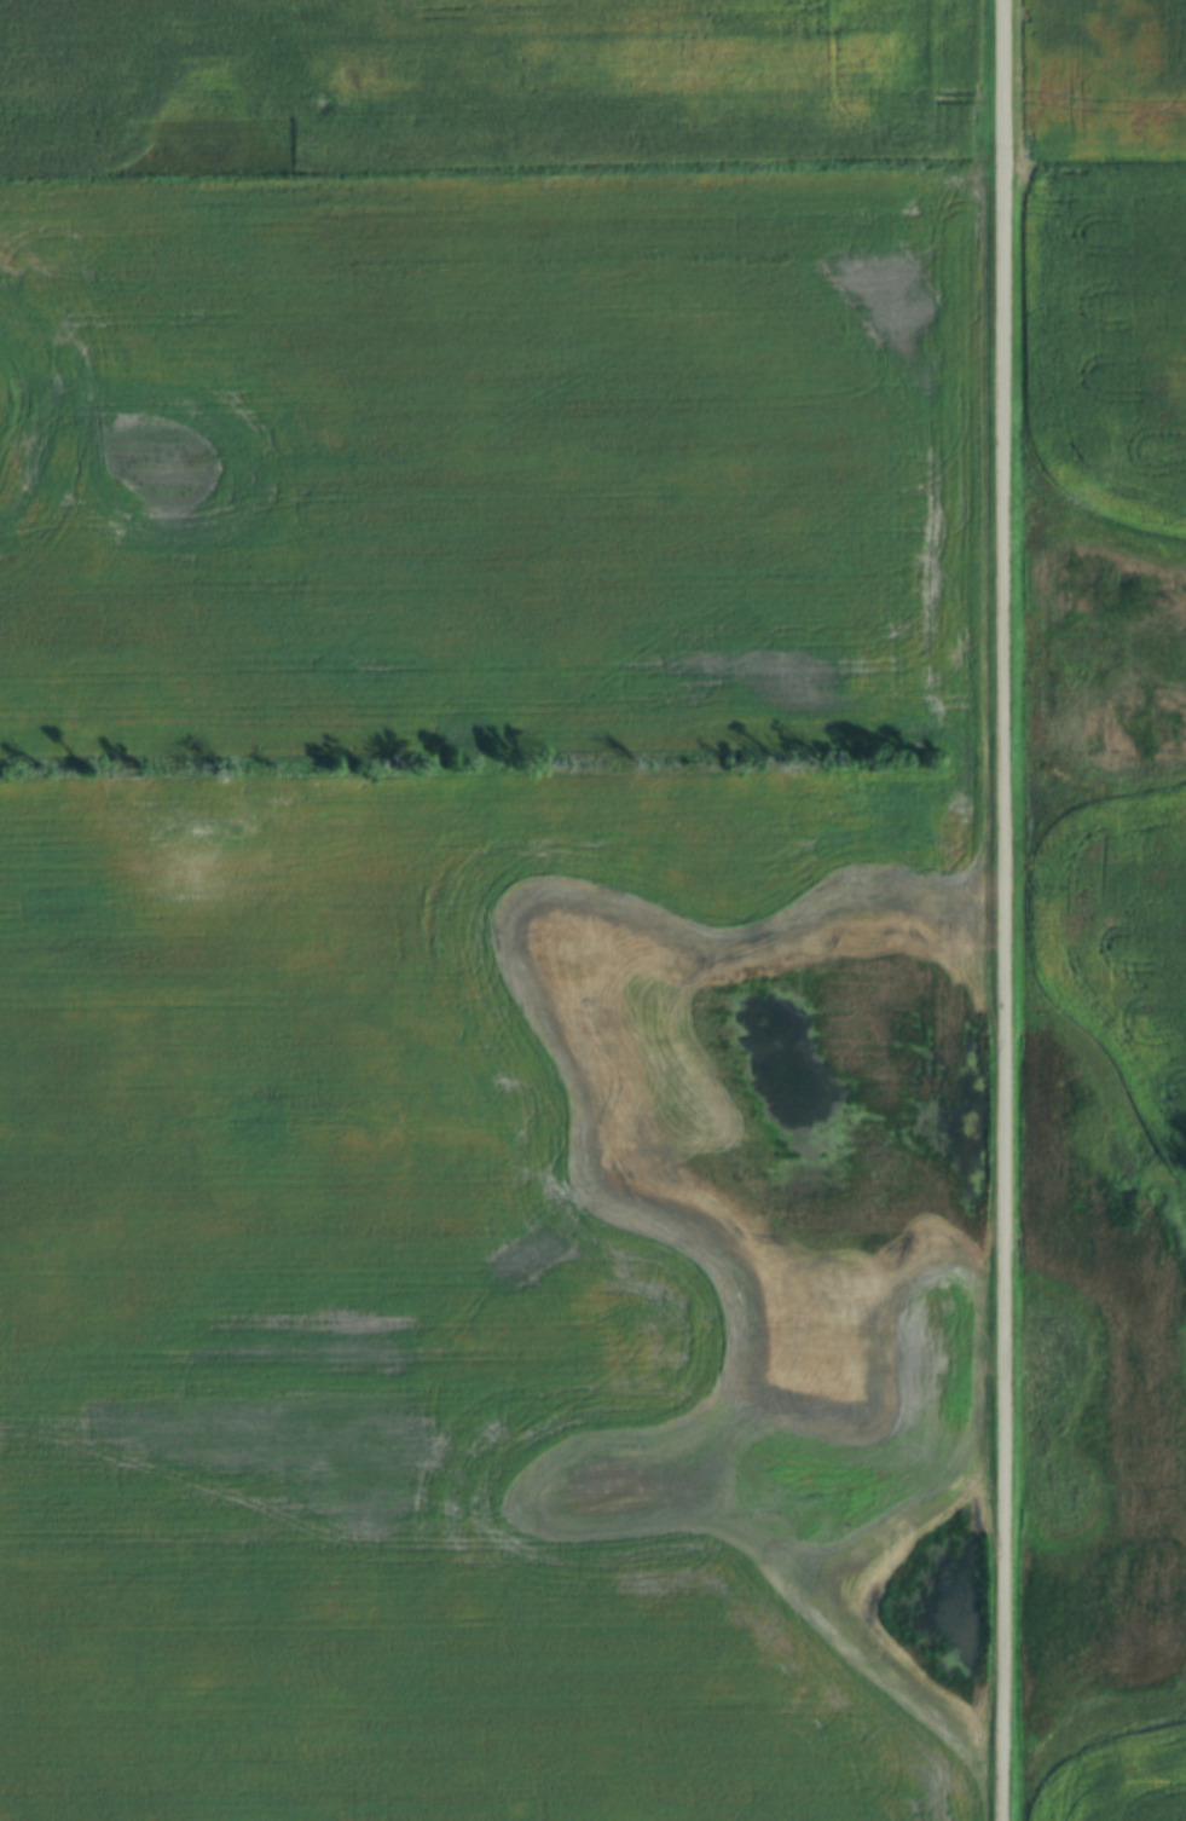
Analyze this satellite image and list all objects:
road: (1007, 910)

